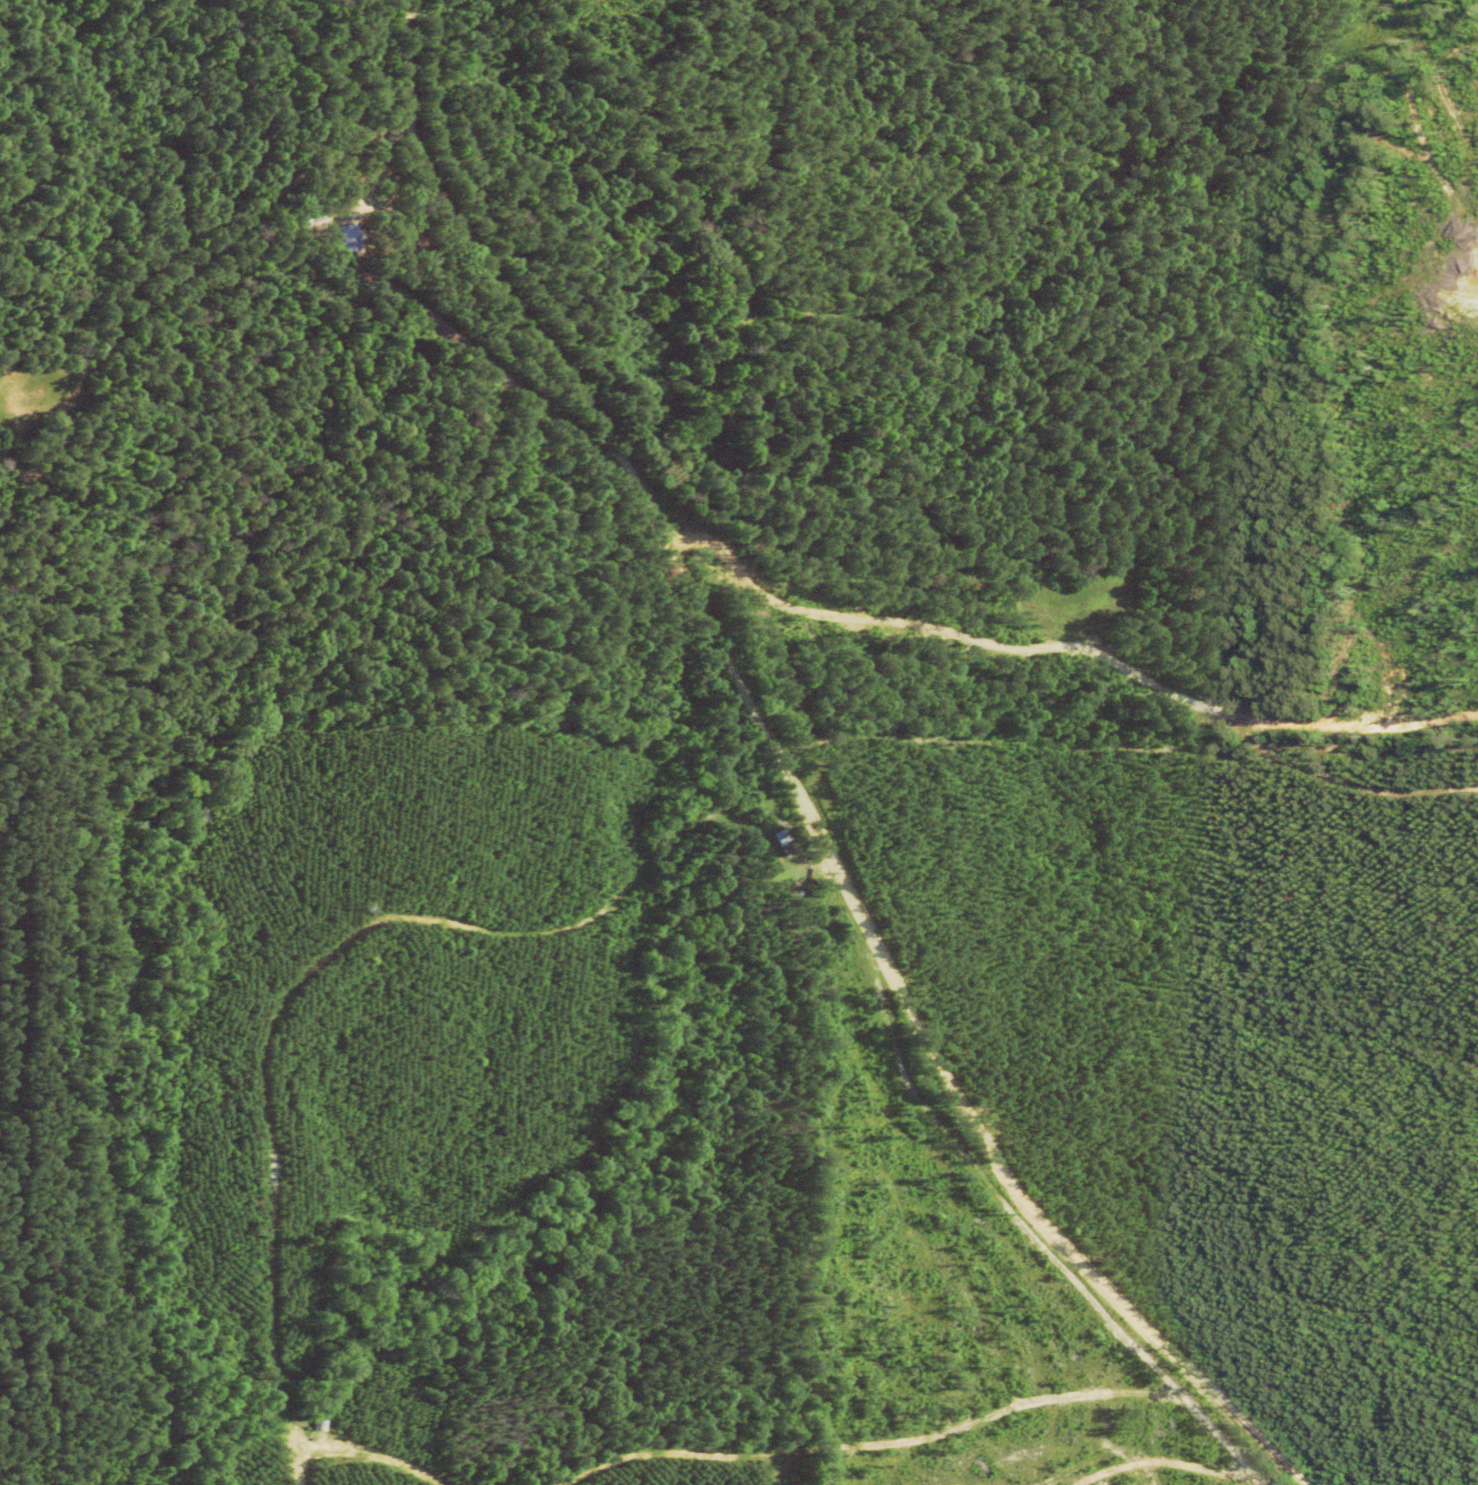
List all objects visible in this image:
building: (351, 238)
road: (545, 368)
road: (1115, 801)
road: (979, 1131)
road: (1141, 1480)

